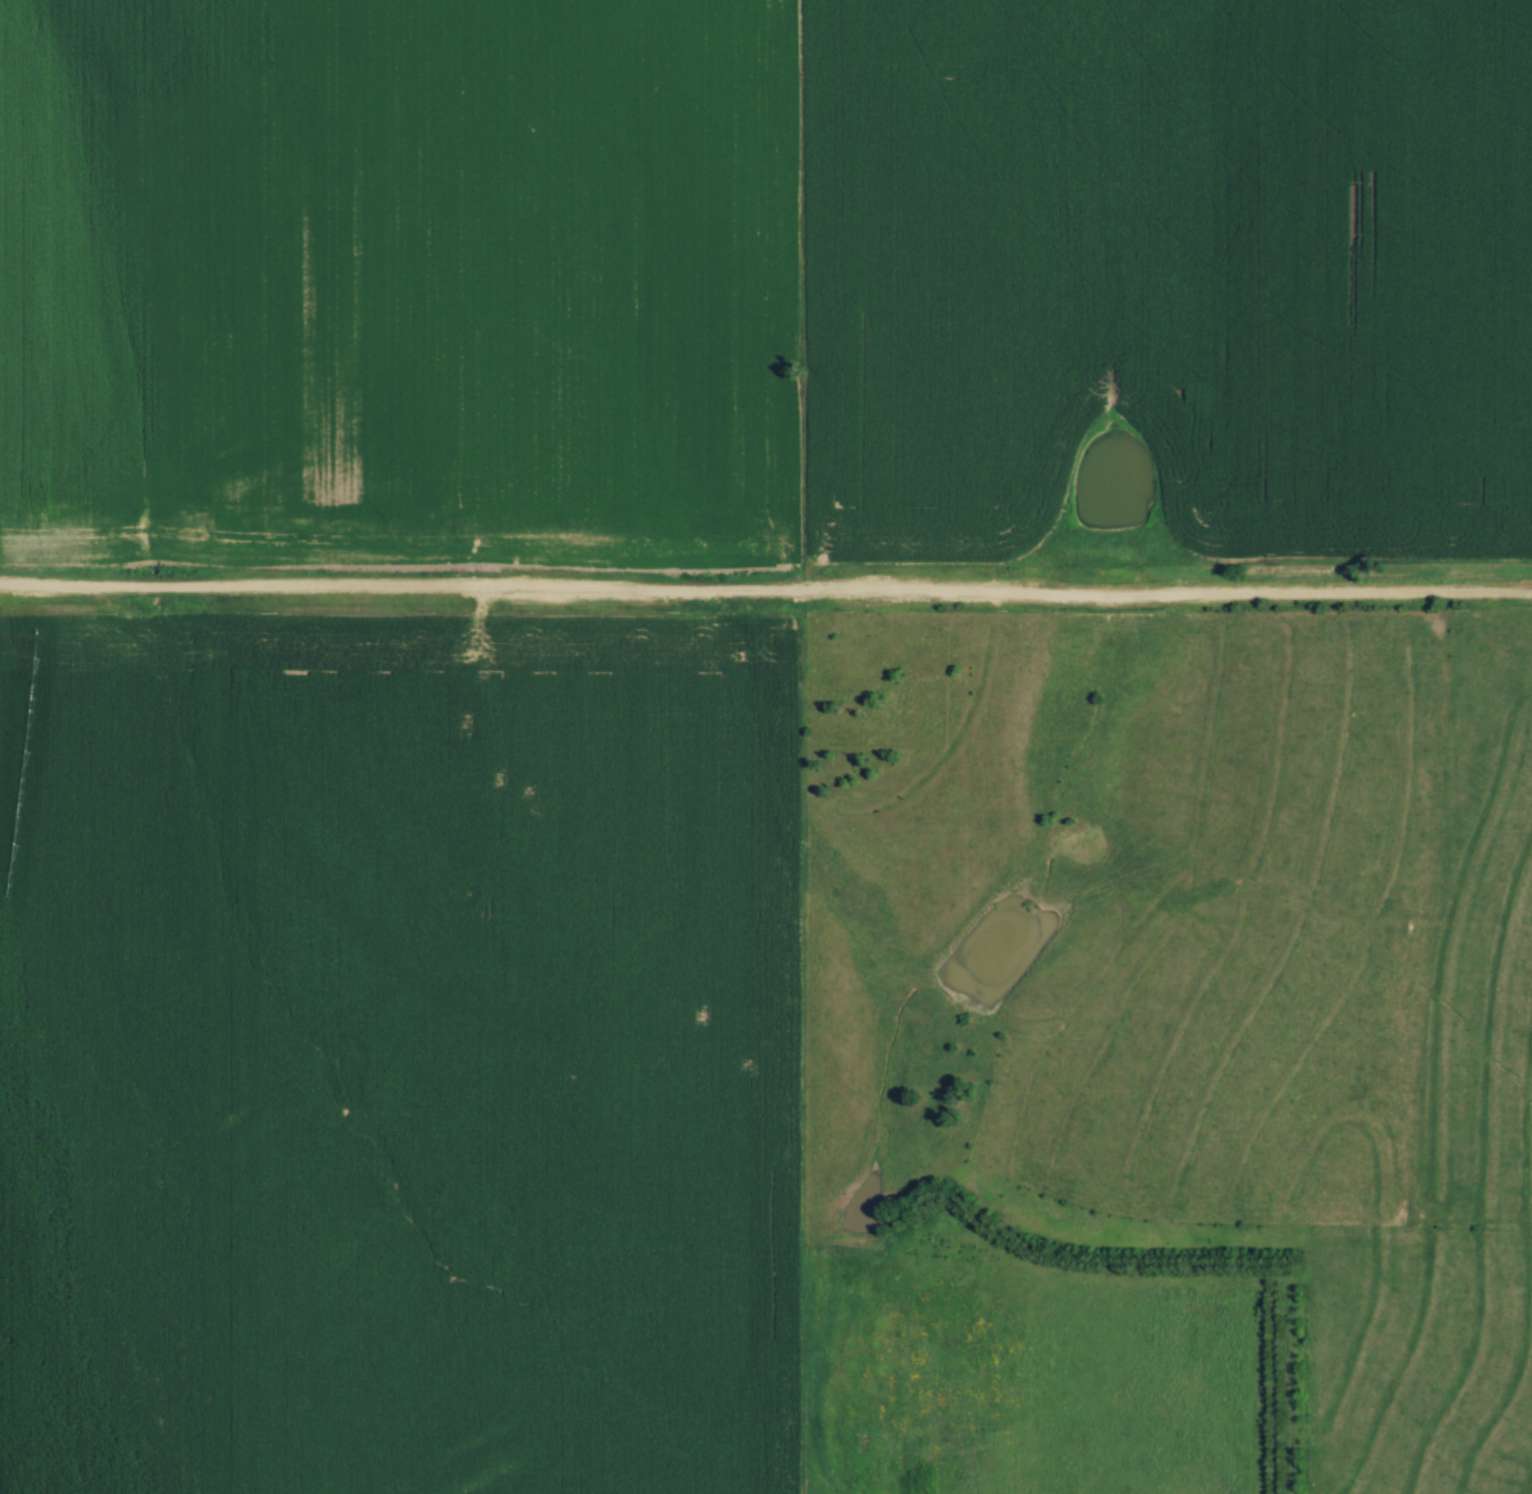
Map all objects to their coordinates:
road: (766, 600)

